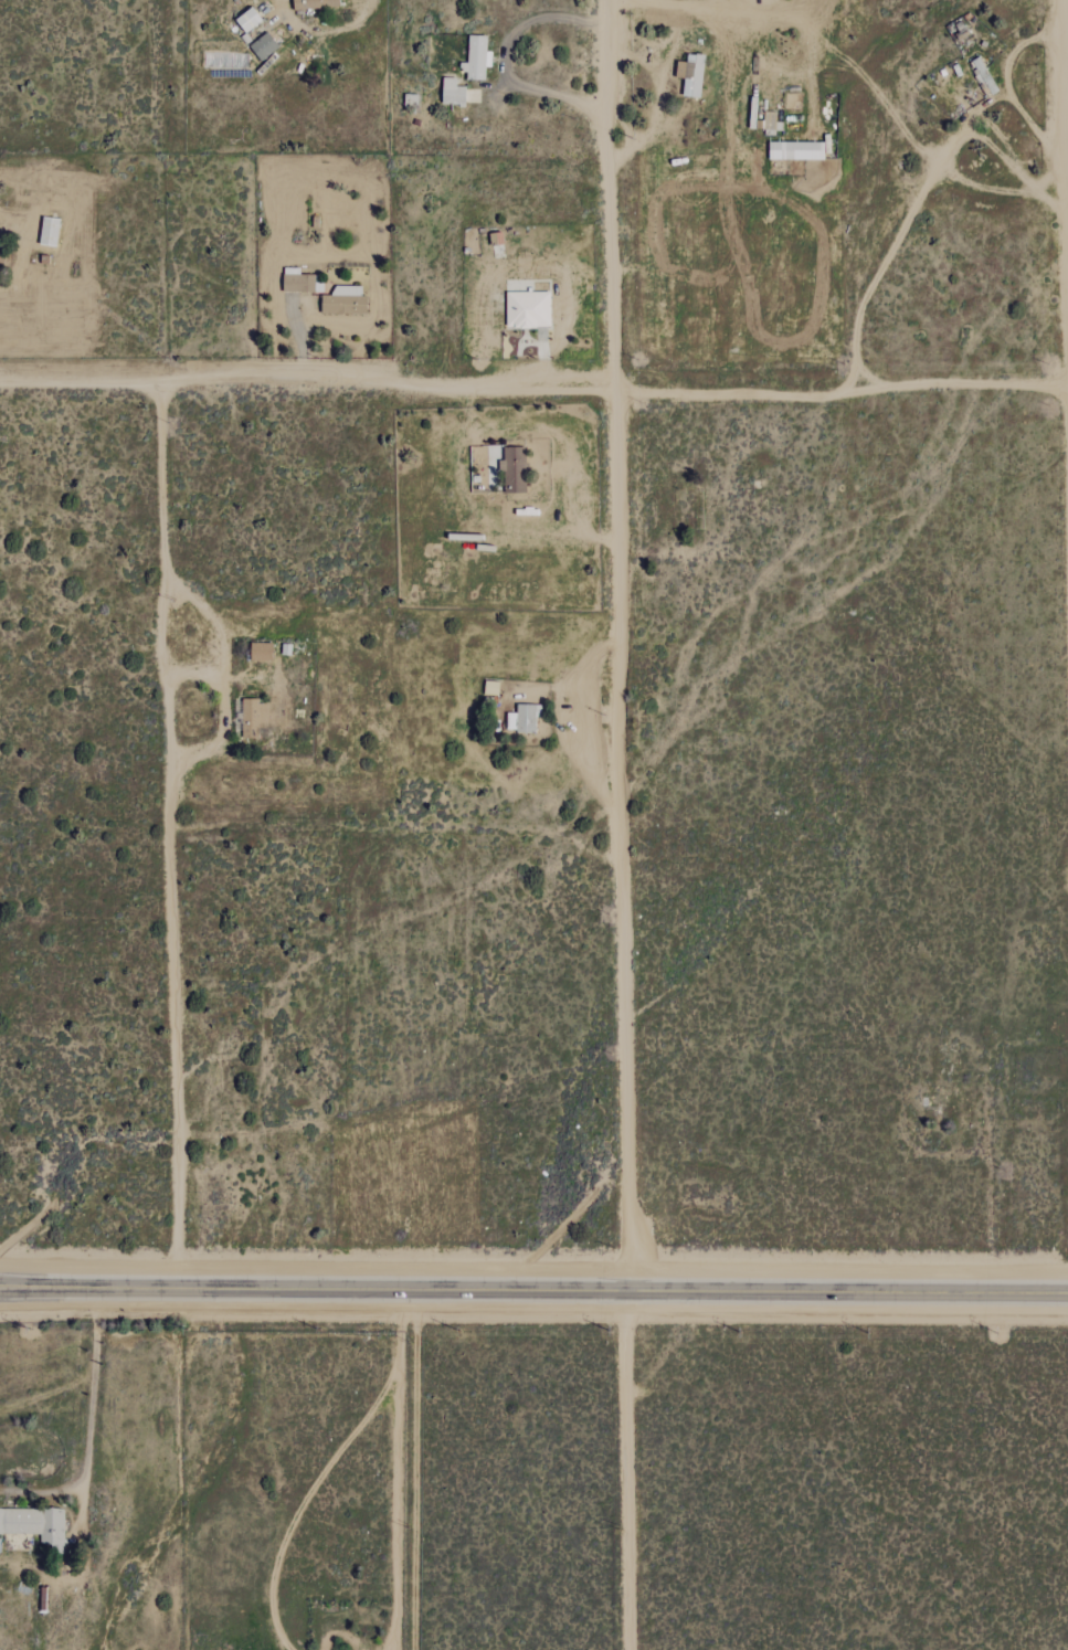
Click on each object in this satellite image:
road: (681, 1)
building: (314, 4)
building: (247, 21)
road: (320, 30)
building: (263, 46)
road: (506, 56)
building: (475, 59)
building: (690, 75)
building: (983, 76)
road: (1005, 84)
building: (452, 93)
road: (659, 99)
road: (1066, 114)
building: (795, 151)
road: (900, 228)
building: (47, 231)
road: (22, 254)
building: (527, 309)
road: (298, 340)
road: (538, 360)
road: (535, 384)
road: (557, 440)
building: (512, 470)
road: (479, 516)
road: (618, 645)
building: (260, 652)
road: (195, 676)
road: (243, 677)
road: (223, 678)
road: (554, 717)
building: (522, 718)
building: (253, 719)
road: (170, 836)
road: (533, 1291)
road: (400, 1333)
road: (89, 1427)
road: (415, 1470)
road: (627, 1470)
road: (304, 1502)
road: (398, 1513)
building: (35, 1524)

